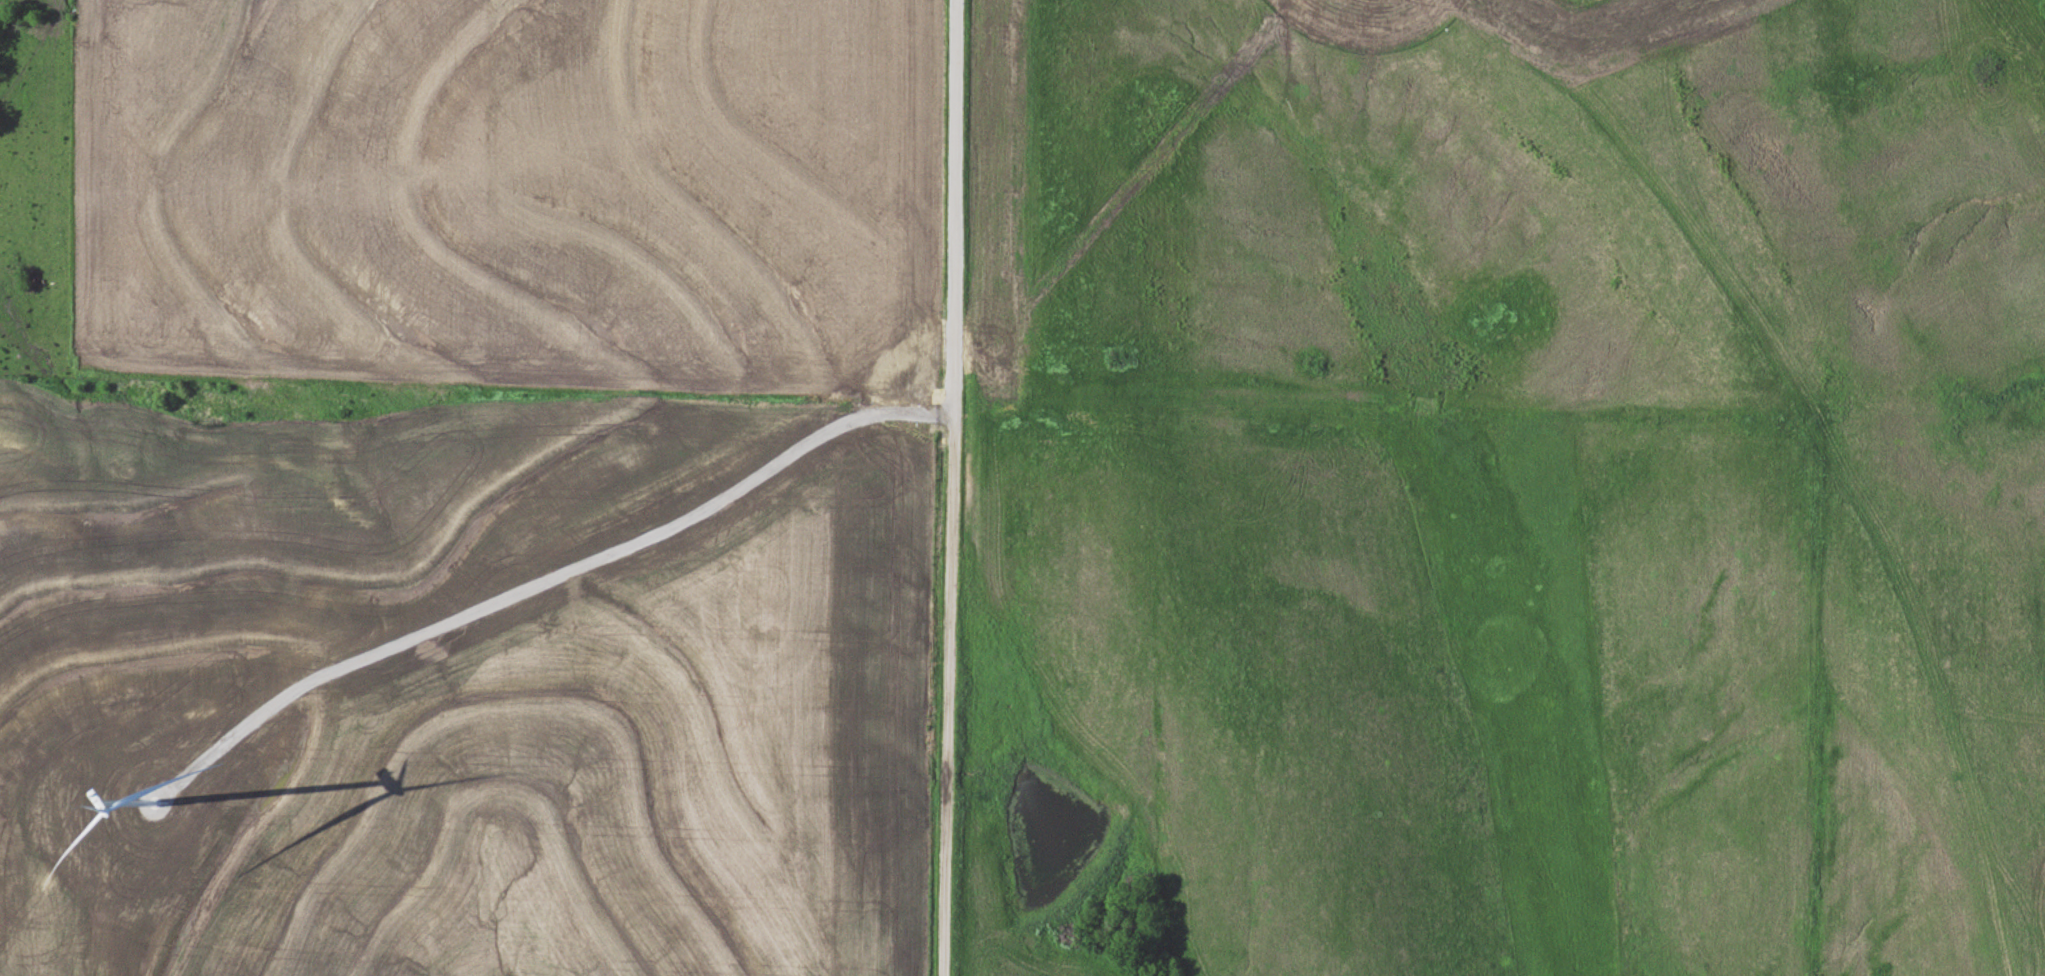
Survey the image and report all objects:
road: (946, 488)
wind turbine: (149, 803)

